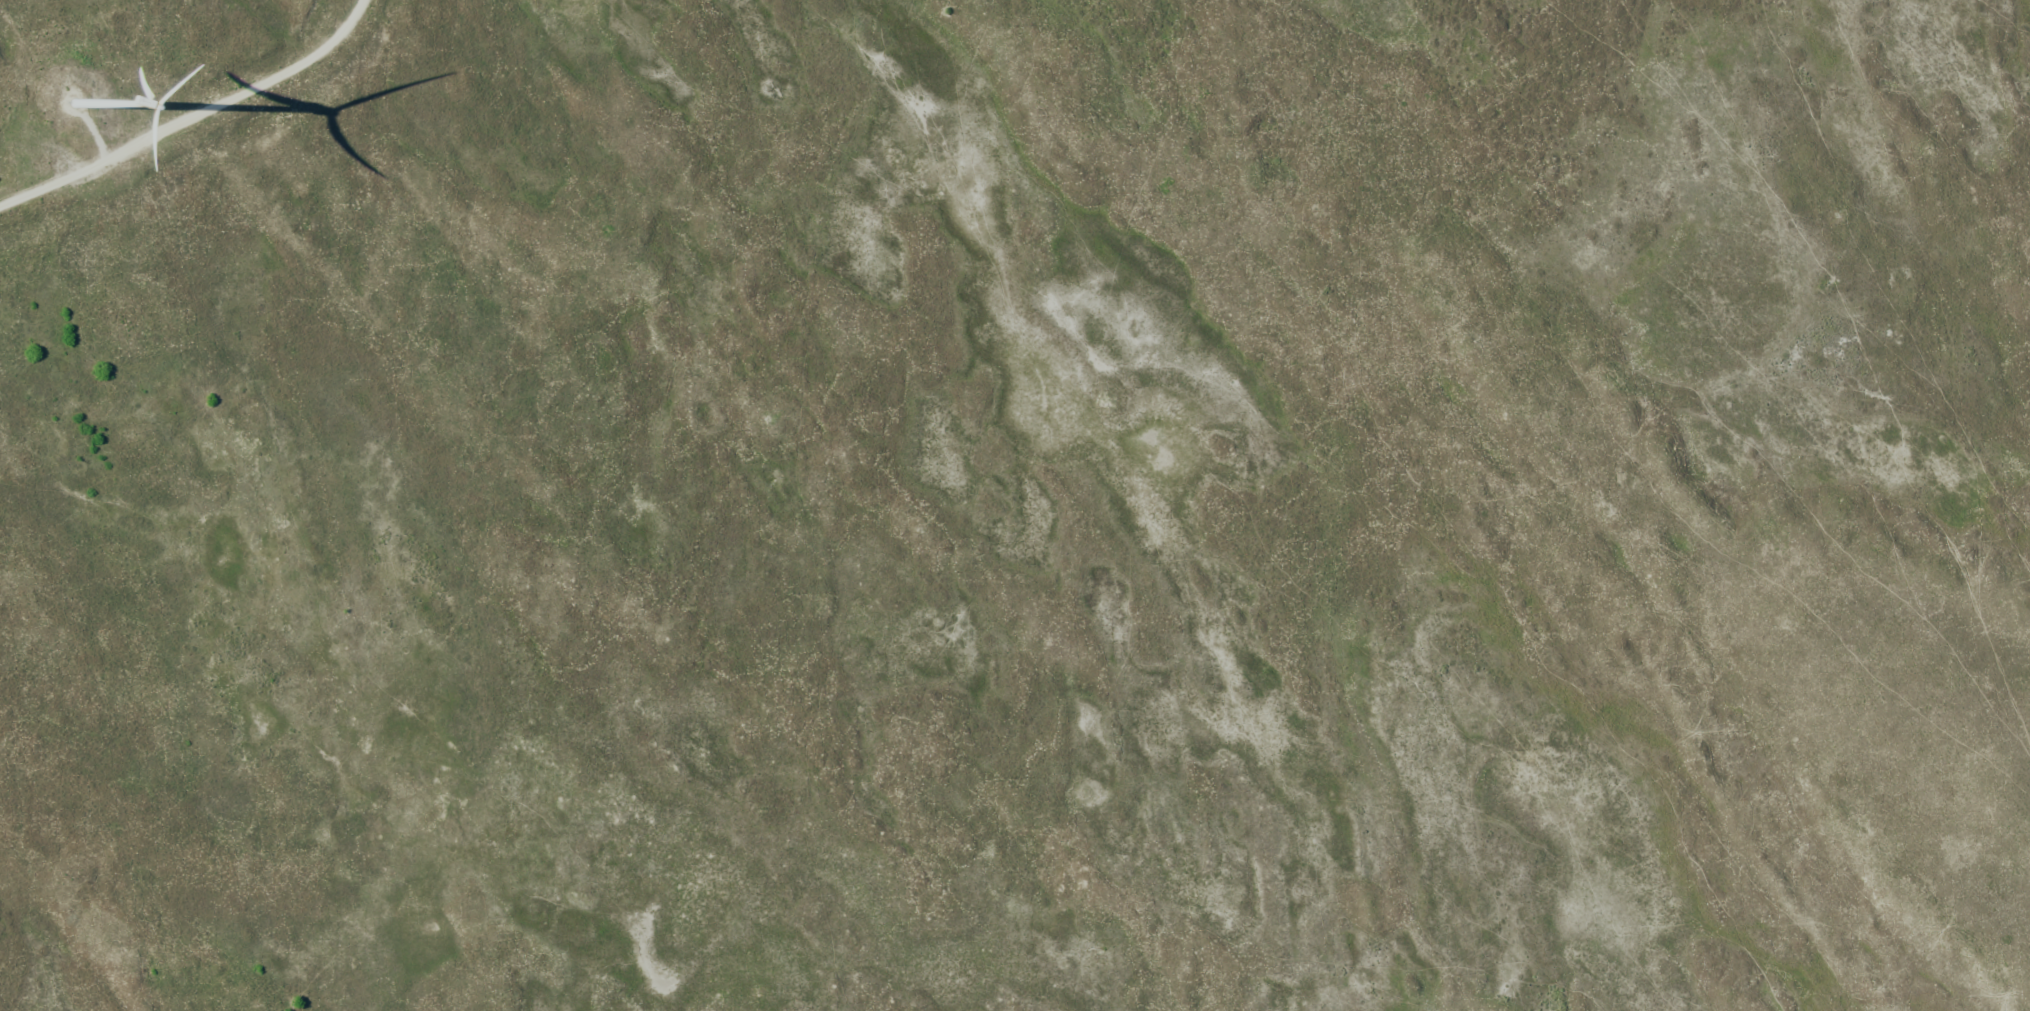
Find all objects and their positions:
wind turbine: (83, 105)

